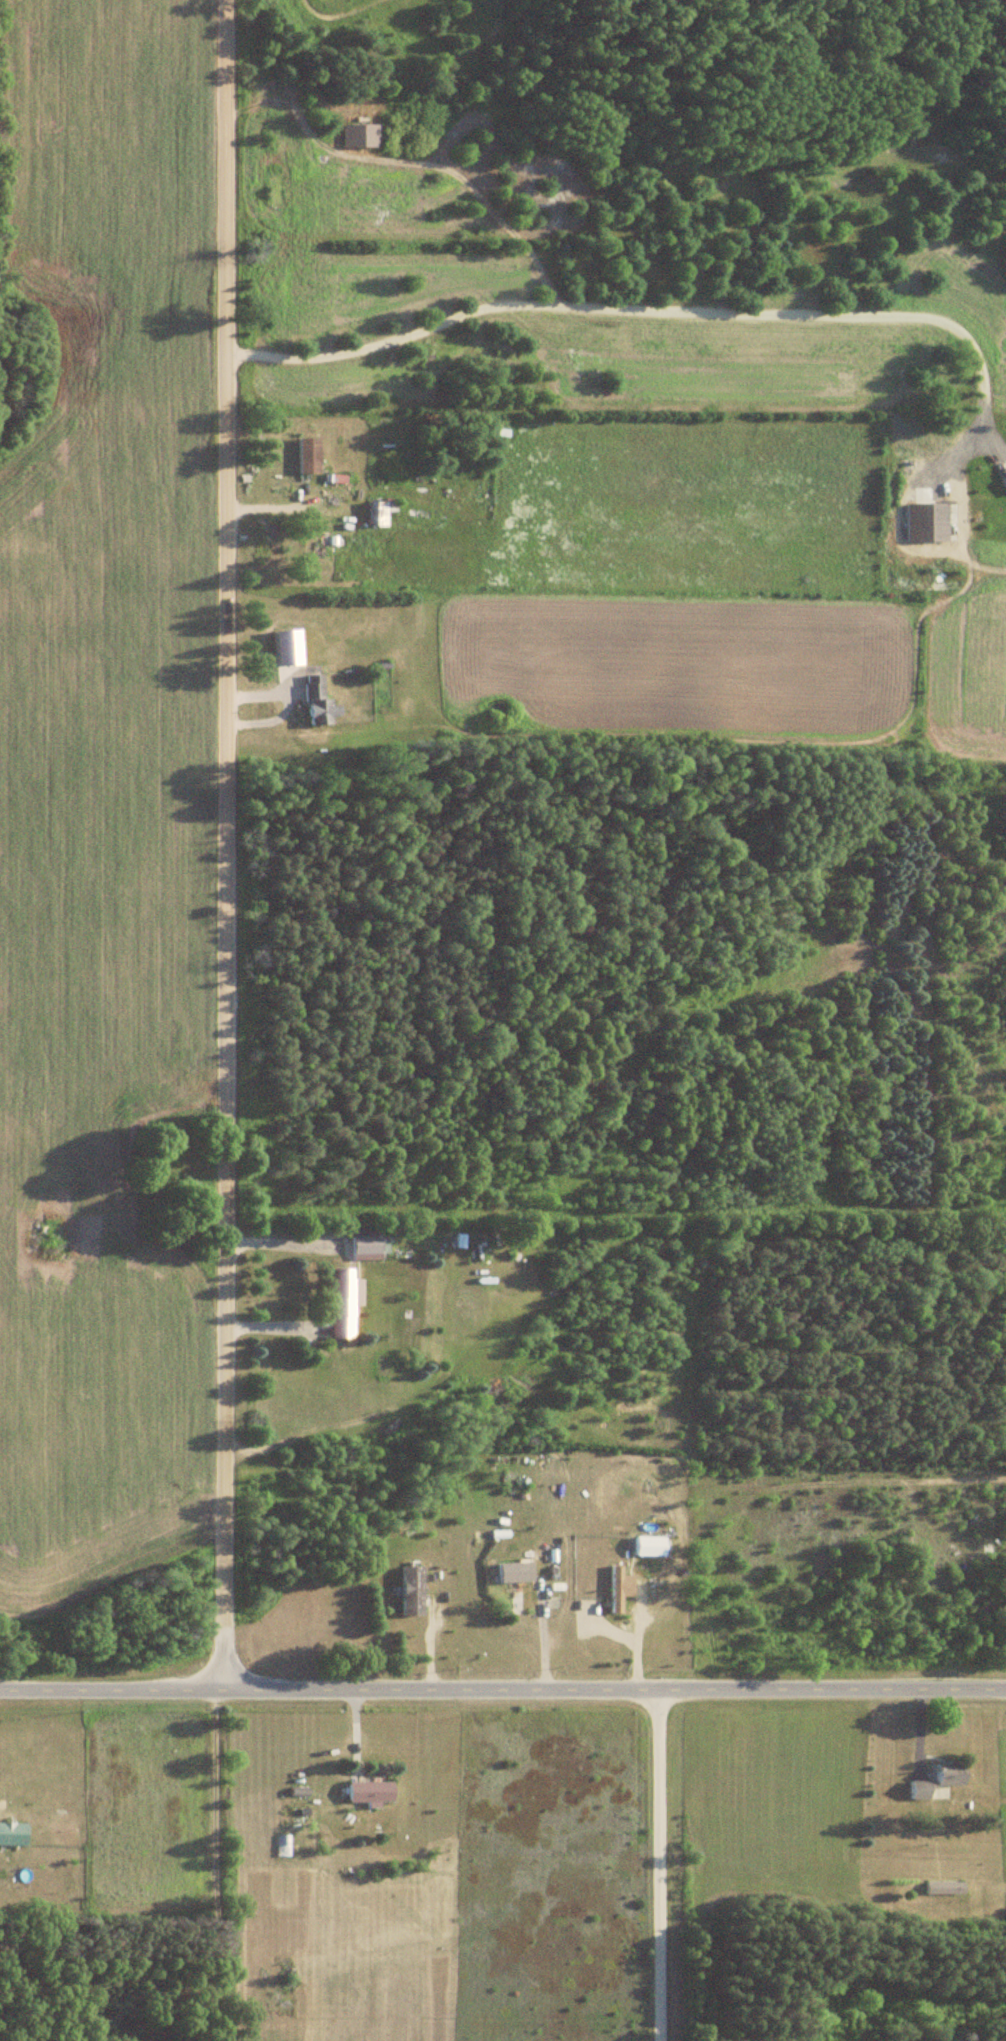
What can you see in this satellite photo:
building: (362, 136)
road: (669, 314)
building: (307, 456)
building: (1005, 481)
building: (379, 514)
building: (926, 523)
building: (317, 703)
road: (224, 843)
building: (365, 1243)
road: (278, 1246)
building: (343, 1306)
building: (651, 1547)
building: (515, 1587)
building: (615, 1590)
building: (412, 1591)
road: (502, 1687)
building: (937, 1782)
building: (369, 1792)
building: (12, 1835)
road: (228, 1864)
road: (656, 1864)
building: (943, 1889)

